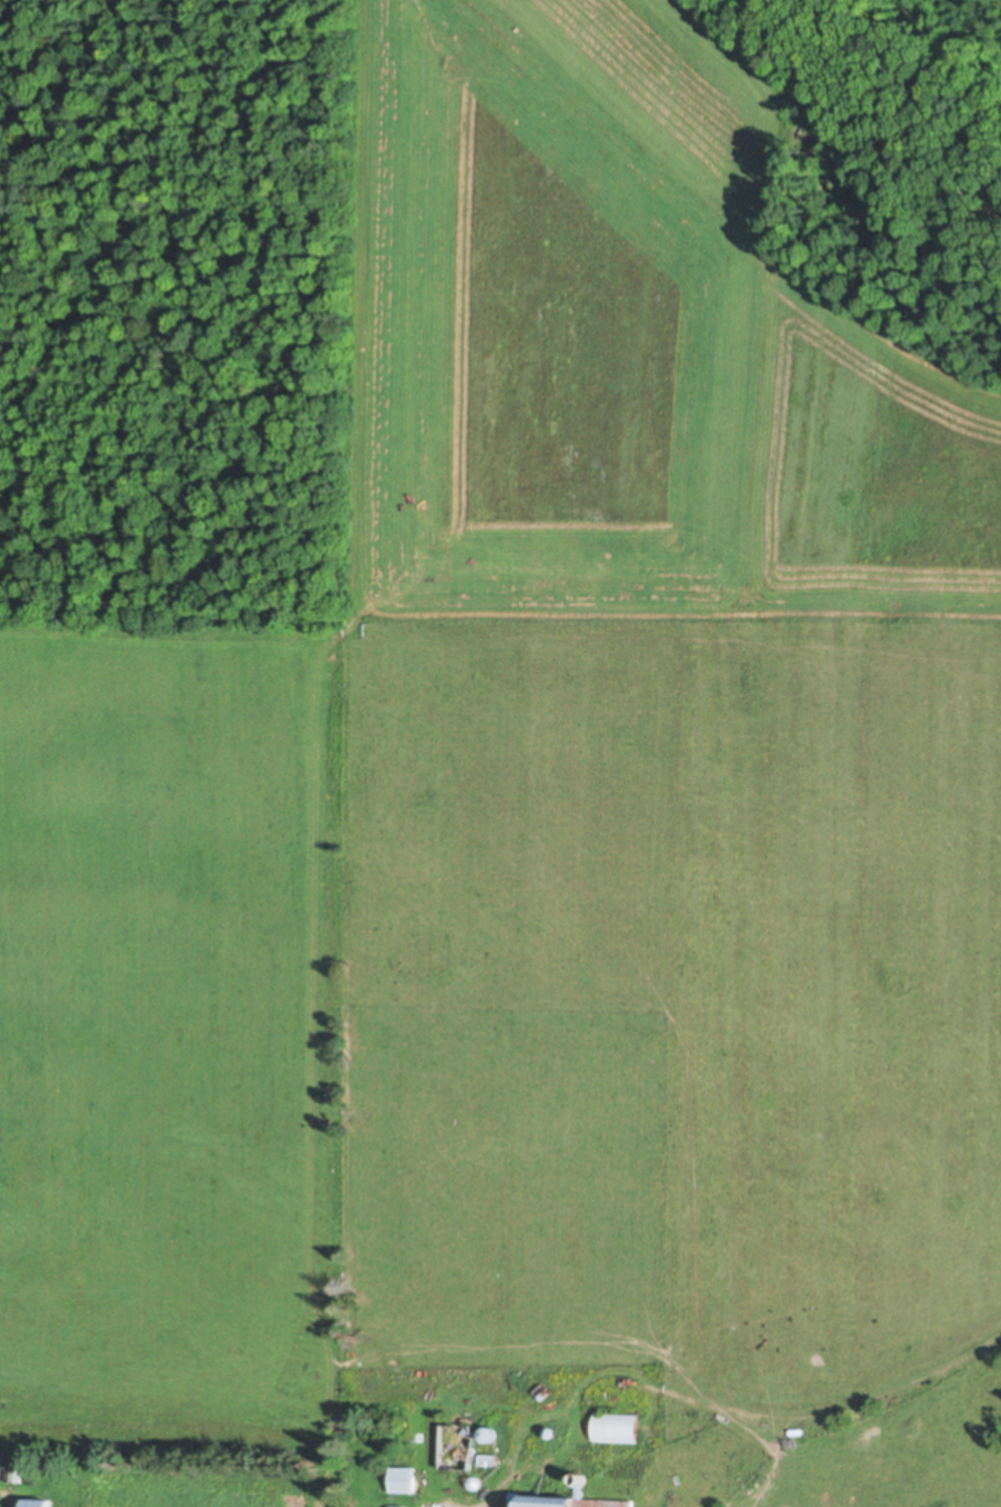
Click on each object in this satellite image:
building: (467, 1418)
building: (616, 1424)
building: (797, 1429)
building: (551, 1431)
building: (488, 1433)
building: (456, 1444)
building: (4, 1454)
building: (488, 1457)
building: (14, 1471)
building: (403, 1477)
building: (475, 1481)
road: (491, 1490)
building: (517, 1495)
building: (574, 1500)
building: (38, 1502)
building: (397, 1505)

